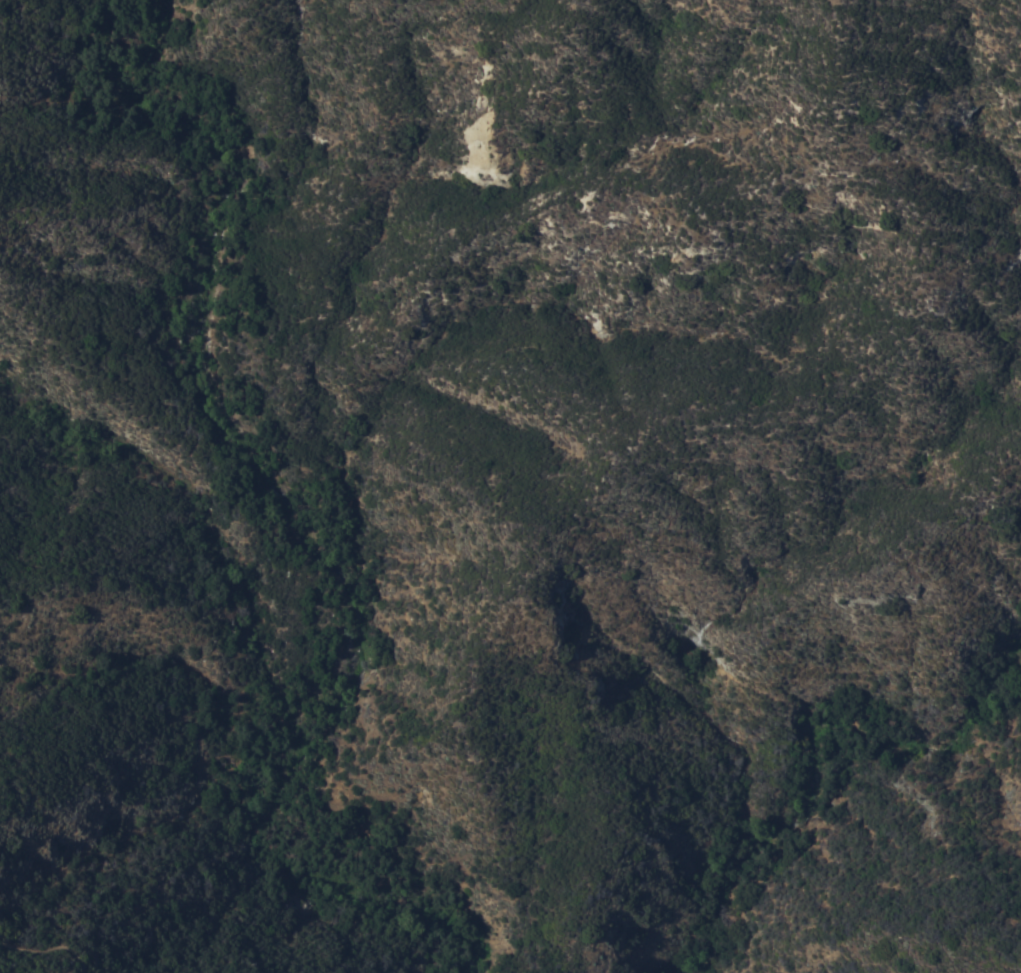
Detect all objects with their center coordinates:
road: (48, 948)

